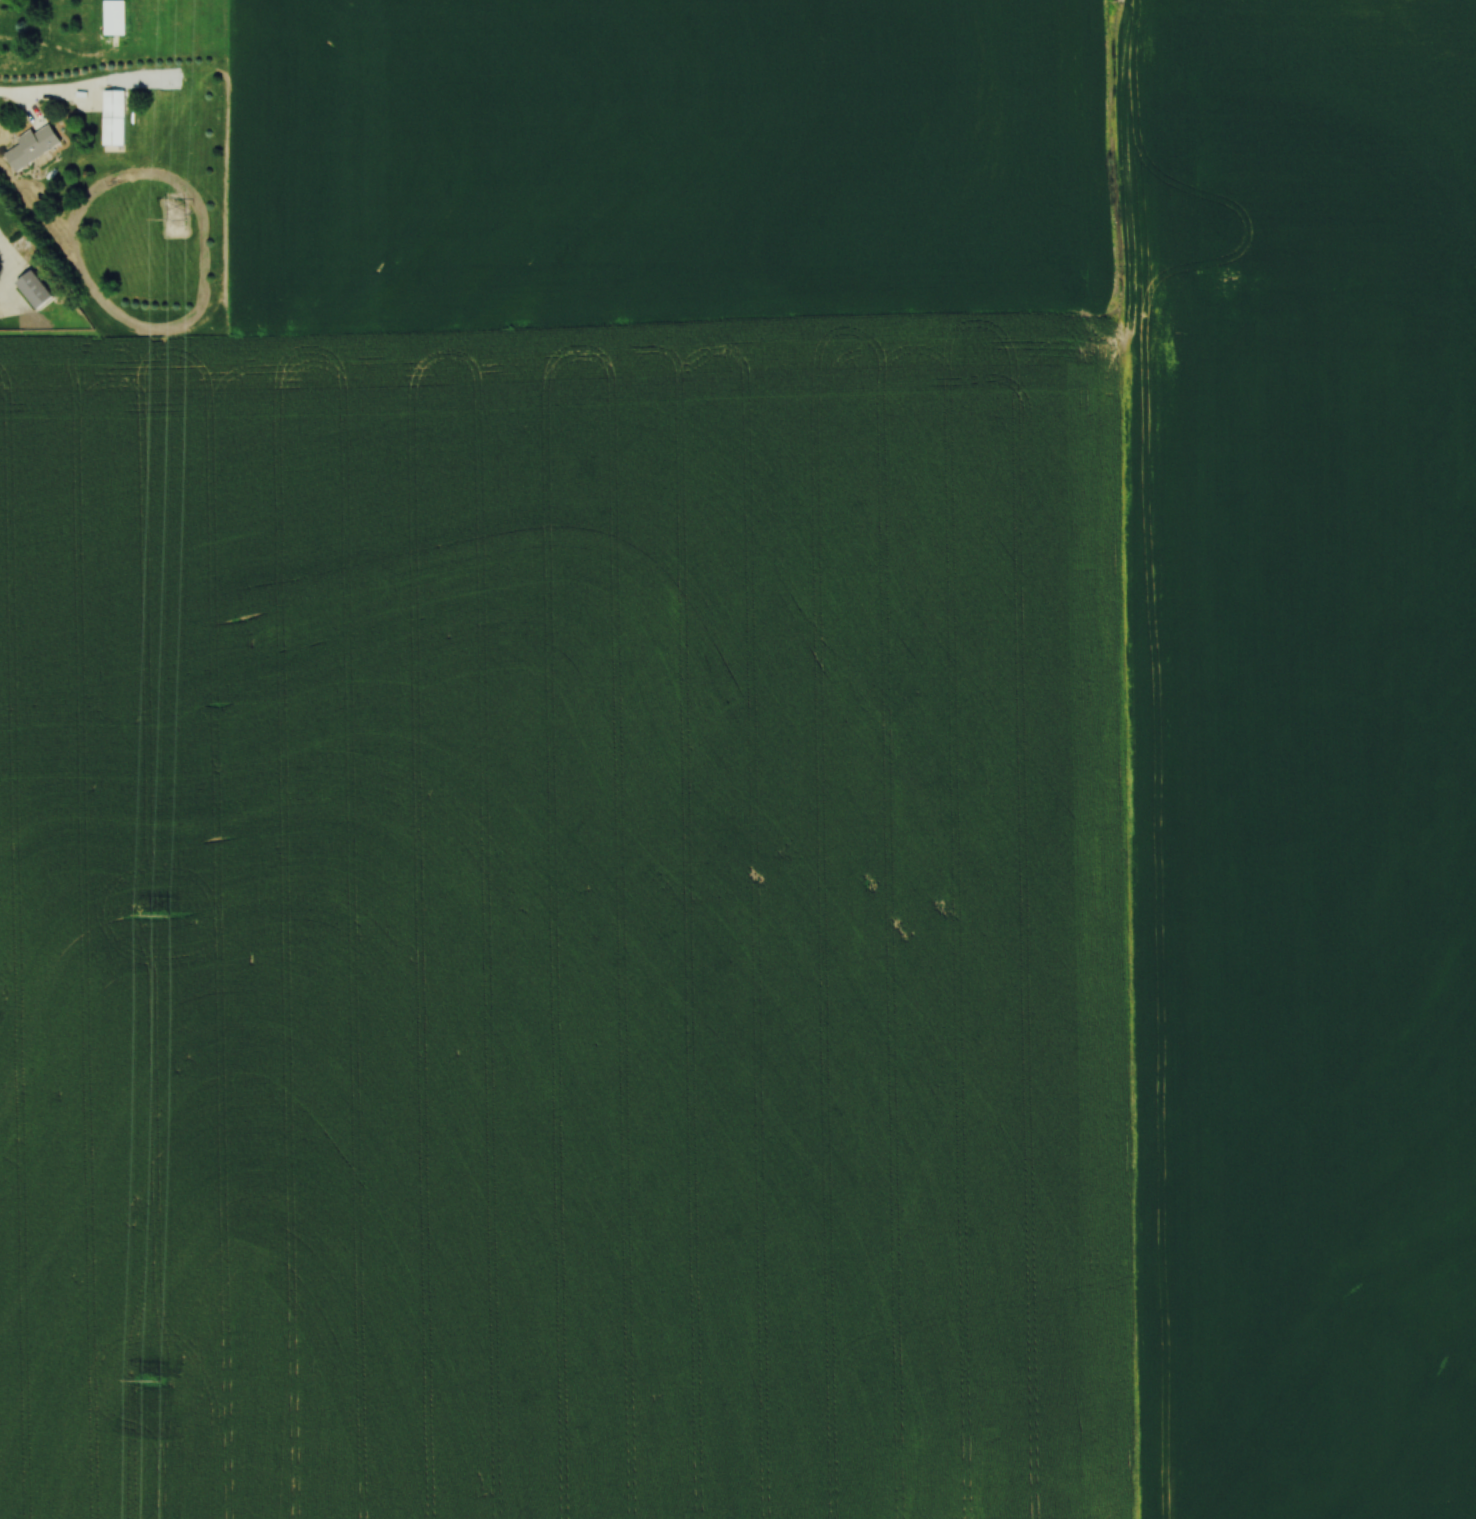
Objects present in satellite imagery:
building: (117, 18)
road: (19, 100)
building: (116, 120)
building: (35, 147)
power tower: (177, 219)
road: (2, 244)
building: (37, 290)
power tower: (160, 917)
power tower: (149, 1382)

